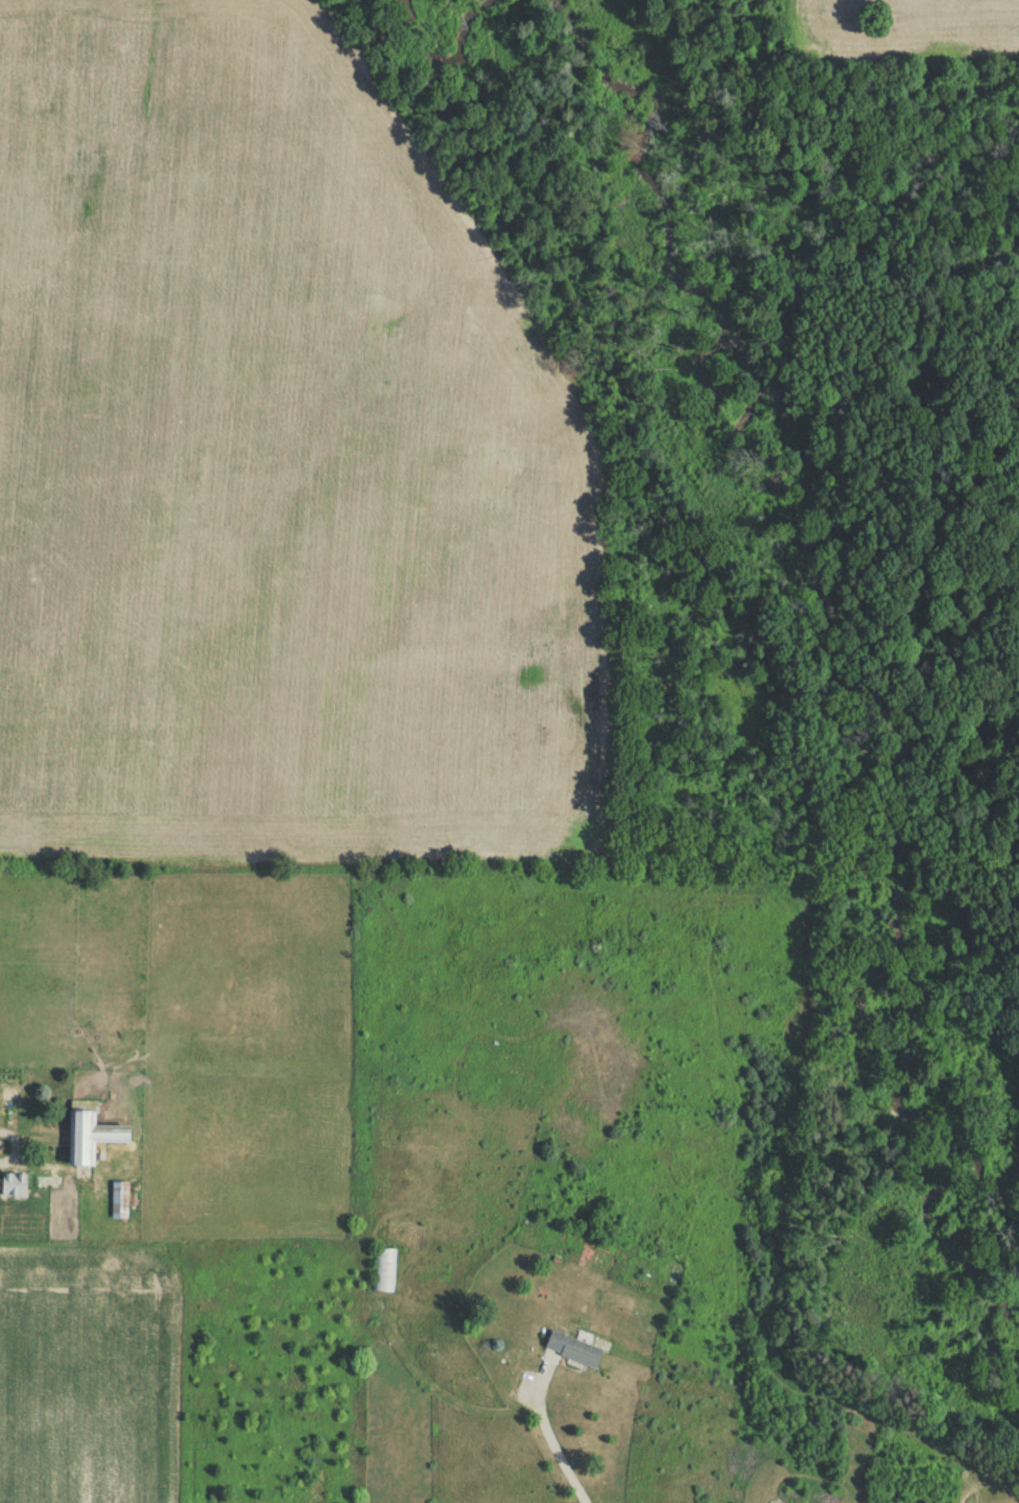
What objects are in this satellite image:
building: (84, 1138)
road: (17, 1167)
building: (117, 1203)
building: (383, 1274)
building: (569, 1352)
road: (548, 1436)

